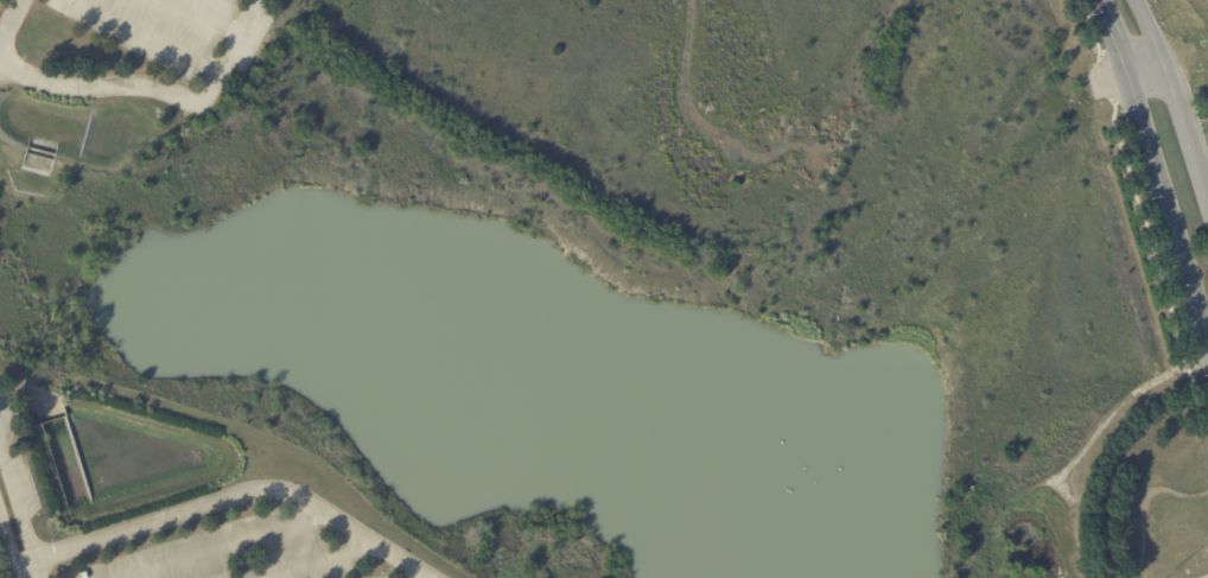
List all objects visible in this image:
road: (209, 17)
road: (11, 20)
road: (150, 37)
road: (1145, 70)
road: (158, 90)
road: (1174, 101)
road: (1156, 164)
road: (4, 419)
road: (225, 498)
road: (18, 515)
road: (216, 545)
road: (8, 548)
road: (241, 558)
road: (317, 565)

